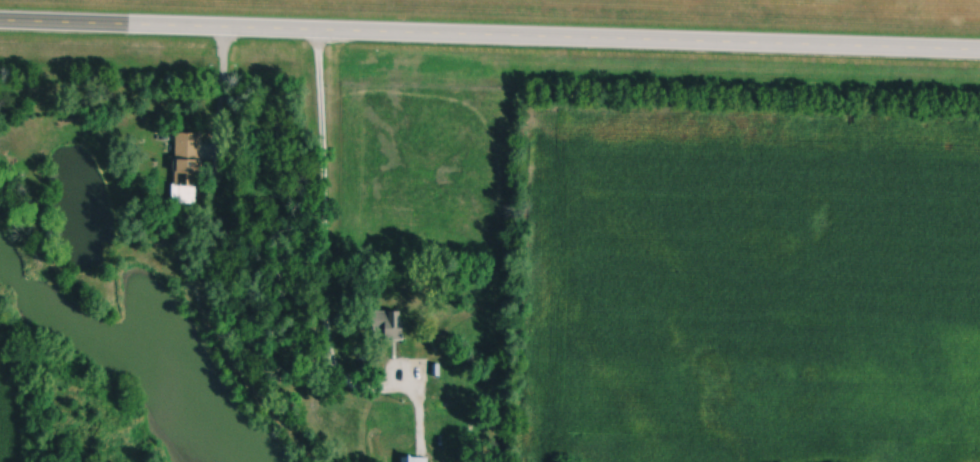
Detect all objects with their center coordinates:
road: (490, 36)
building: (189, 169)
road: (322, 237)
road: (216, 264)
building: (395, 327)
building: (416, 459)

